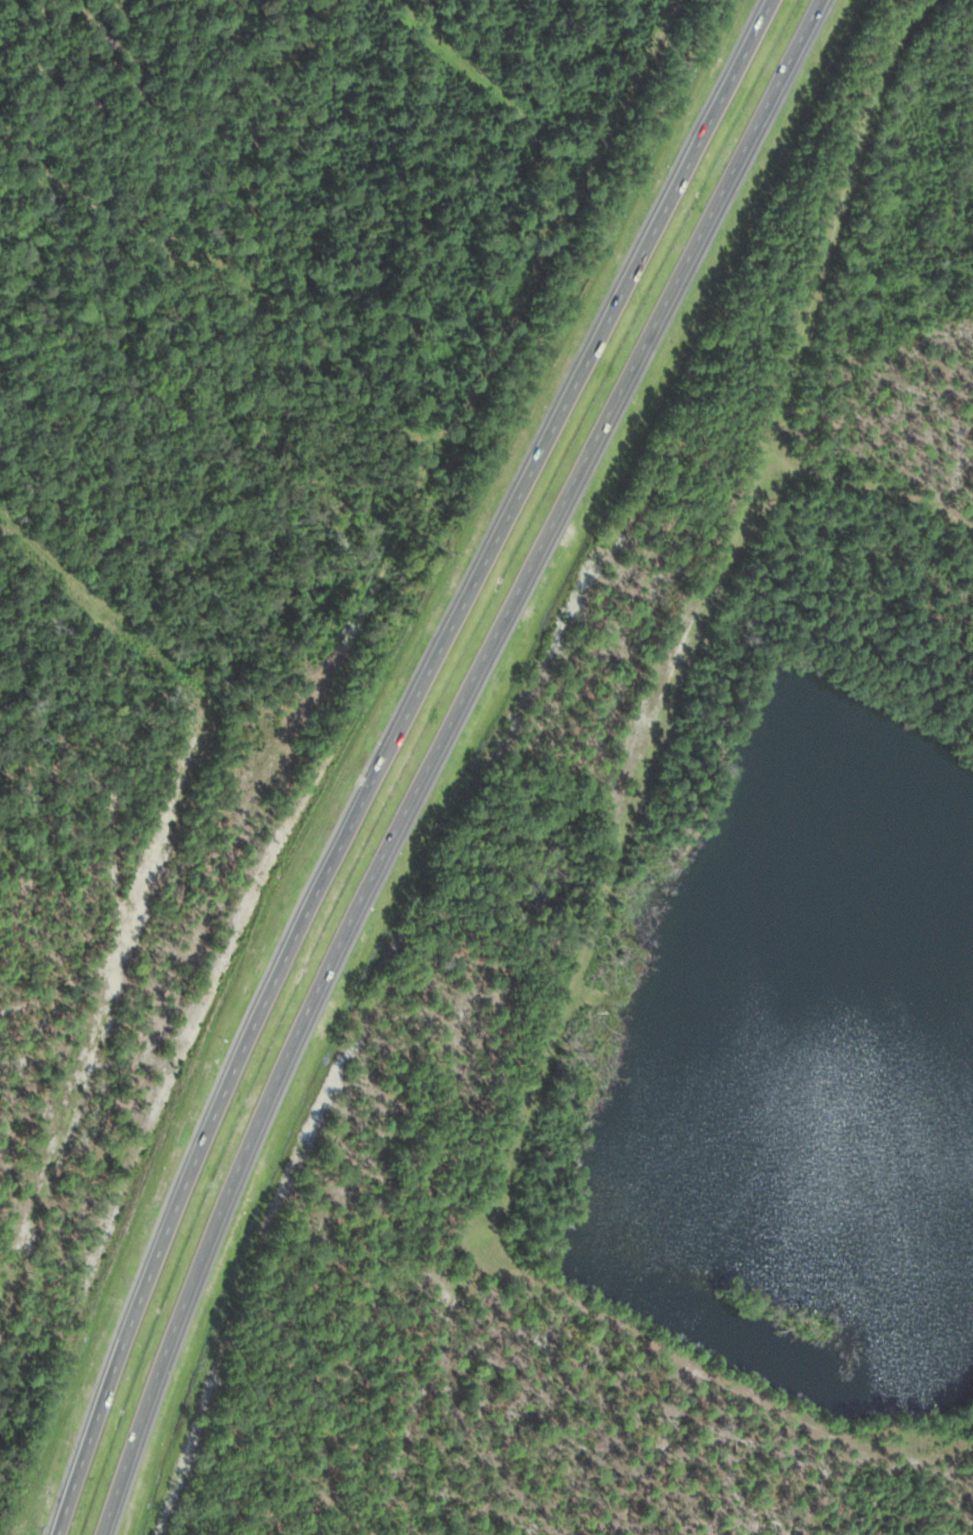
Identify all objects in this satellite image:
road: (870, 489)
road: (690, 621)
road: (386, 755)
road: (433, 755)

